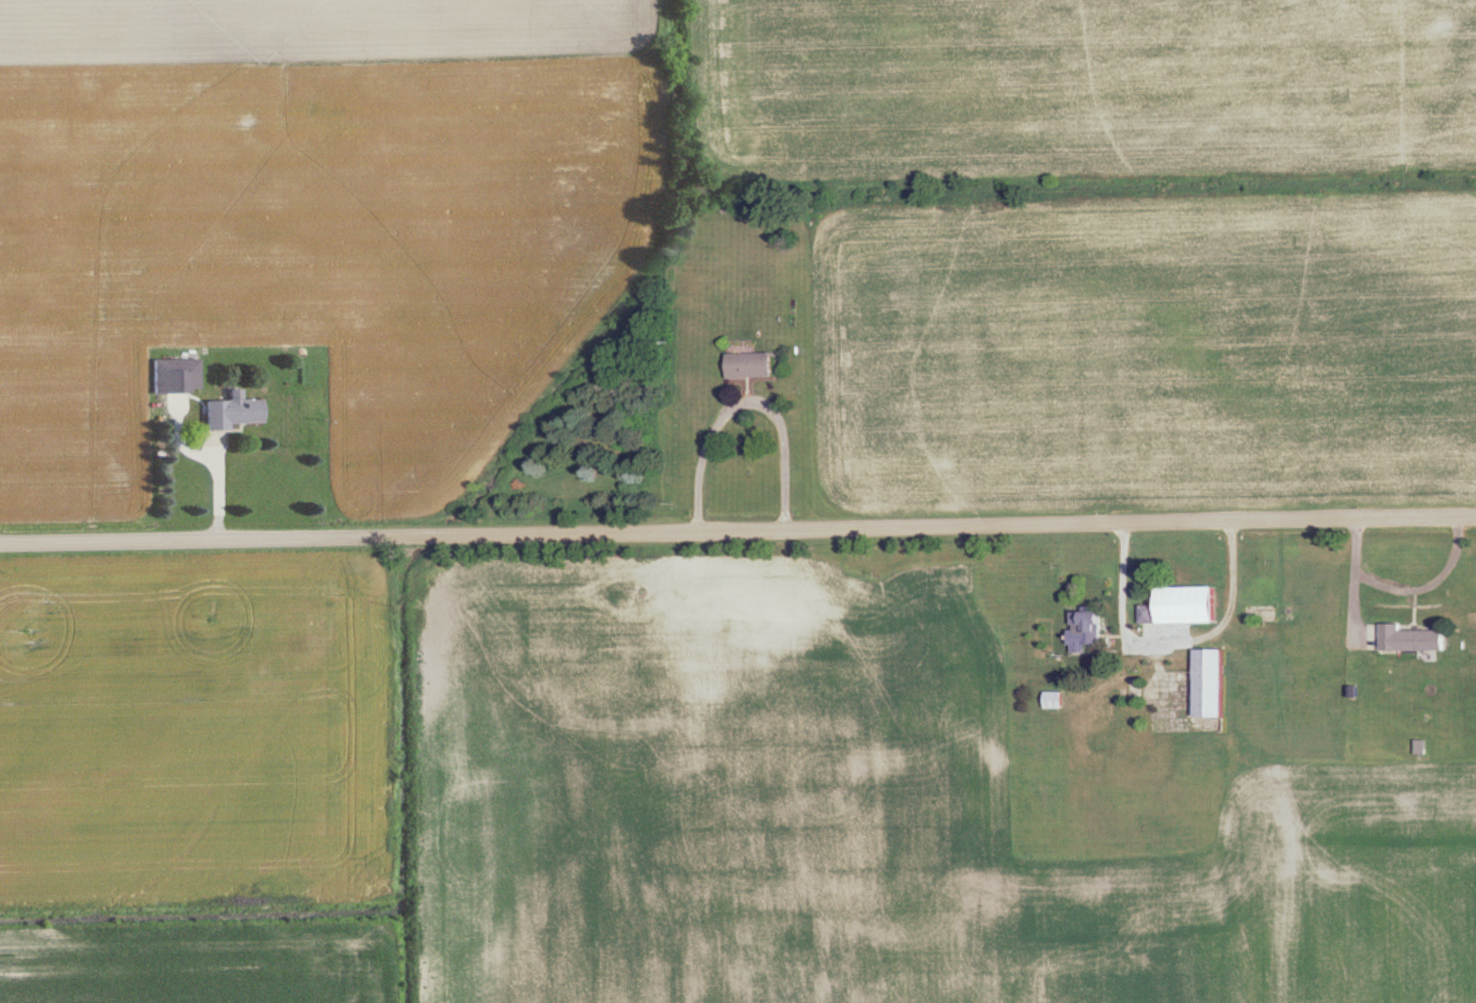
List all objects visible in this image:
building: (758, 366)
building: (177, 376)
road: (753, 402)
building: (233, 413)
road: (197, 461)
road: (738, 527)
road: (1401, 588)
building: (1197, 605)
building: (1155, 614)
building: (1095, 631)
road: (1170, 638)
building: (1418, 640)
building: (1217, 683)
building: (1060, 700)

